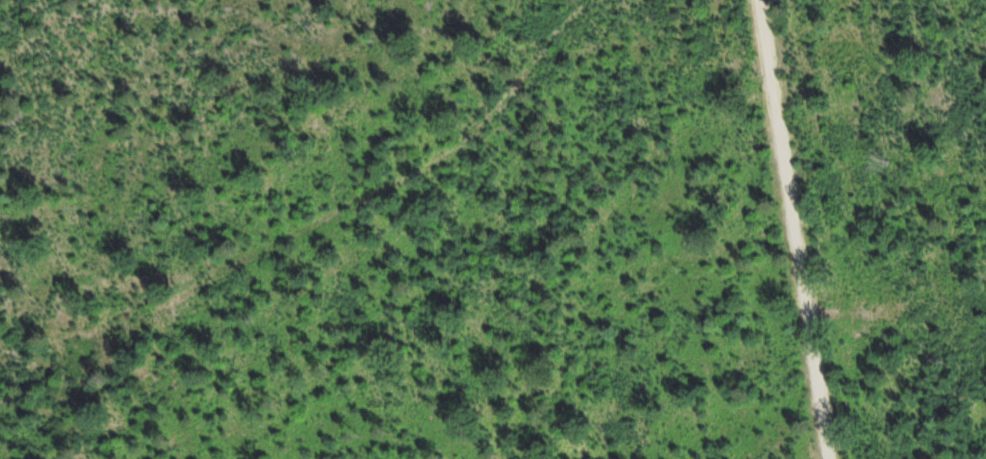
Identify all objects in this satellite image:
road: (795, 229)

